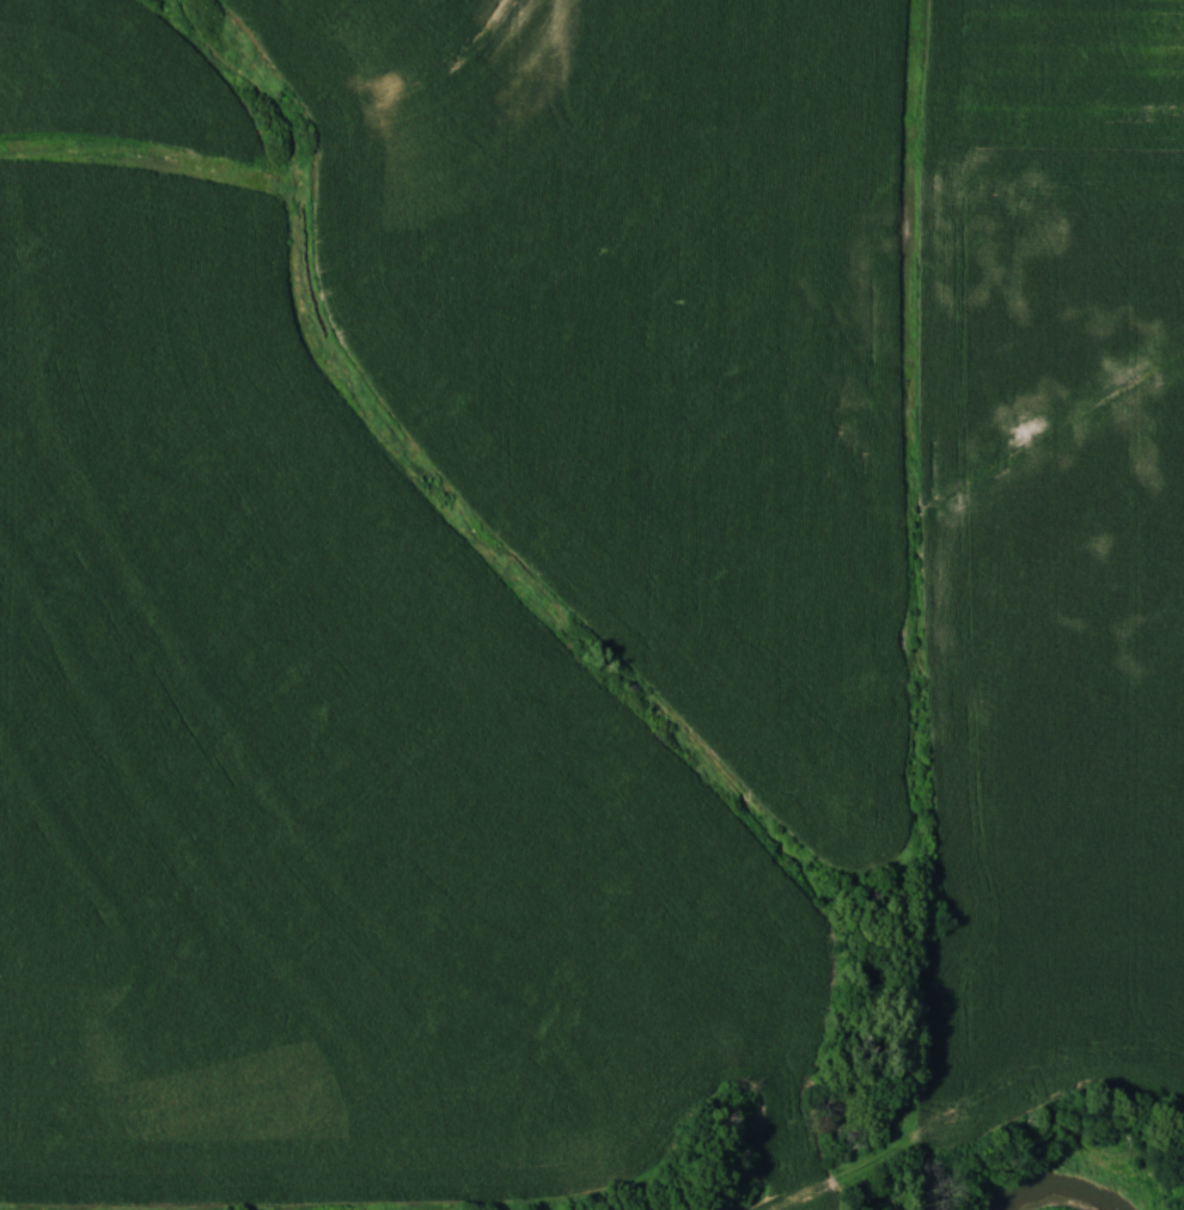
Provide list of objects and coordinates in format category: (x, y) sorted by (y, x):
river: (1068, 1177)

